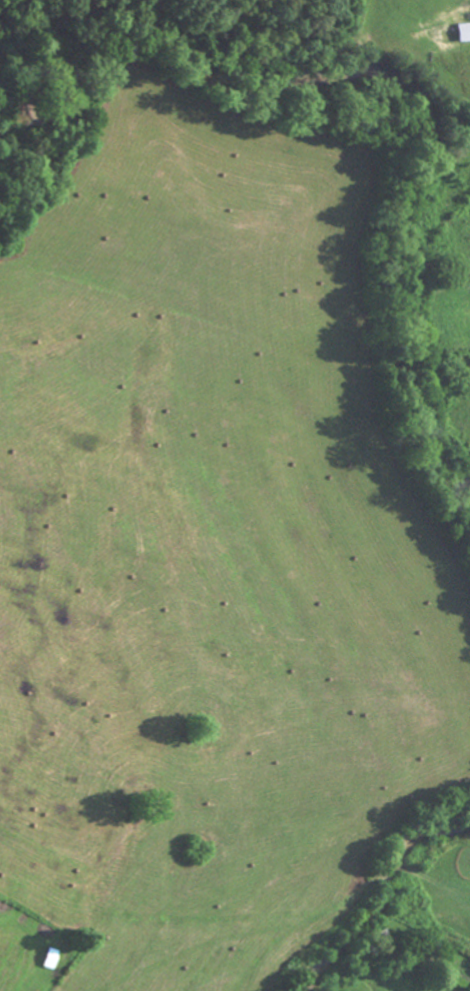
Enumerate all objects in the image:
building: (460, 35)
building: (45, 961)

